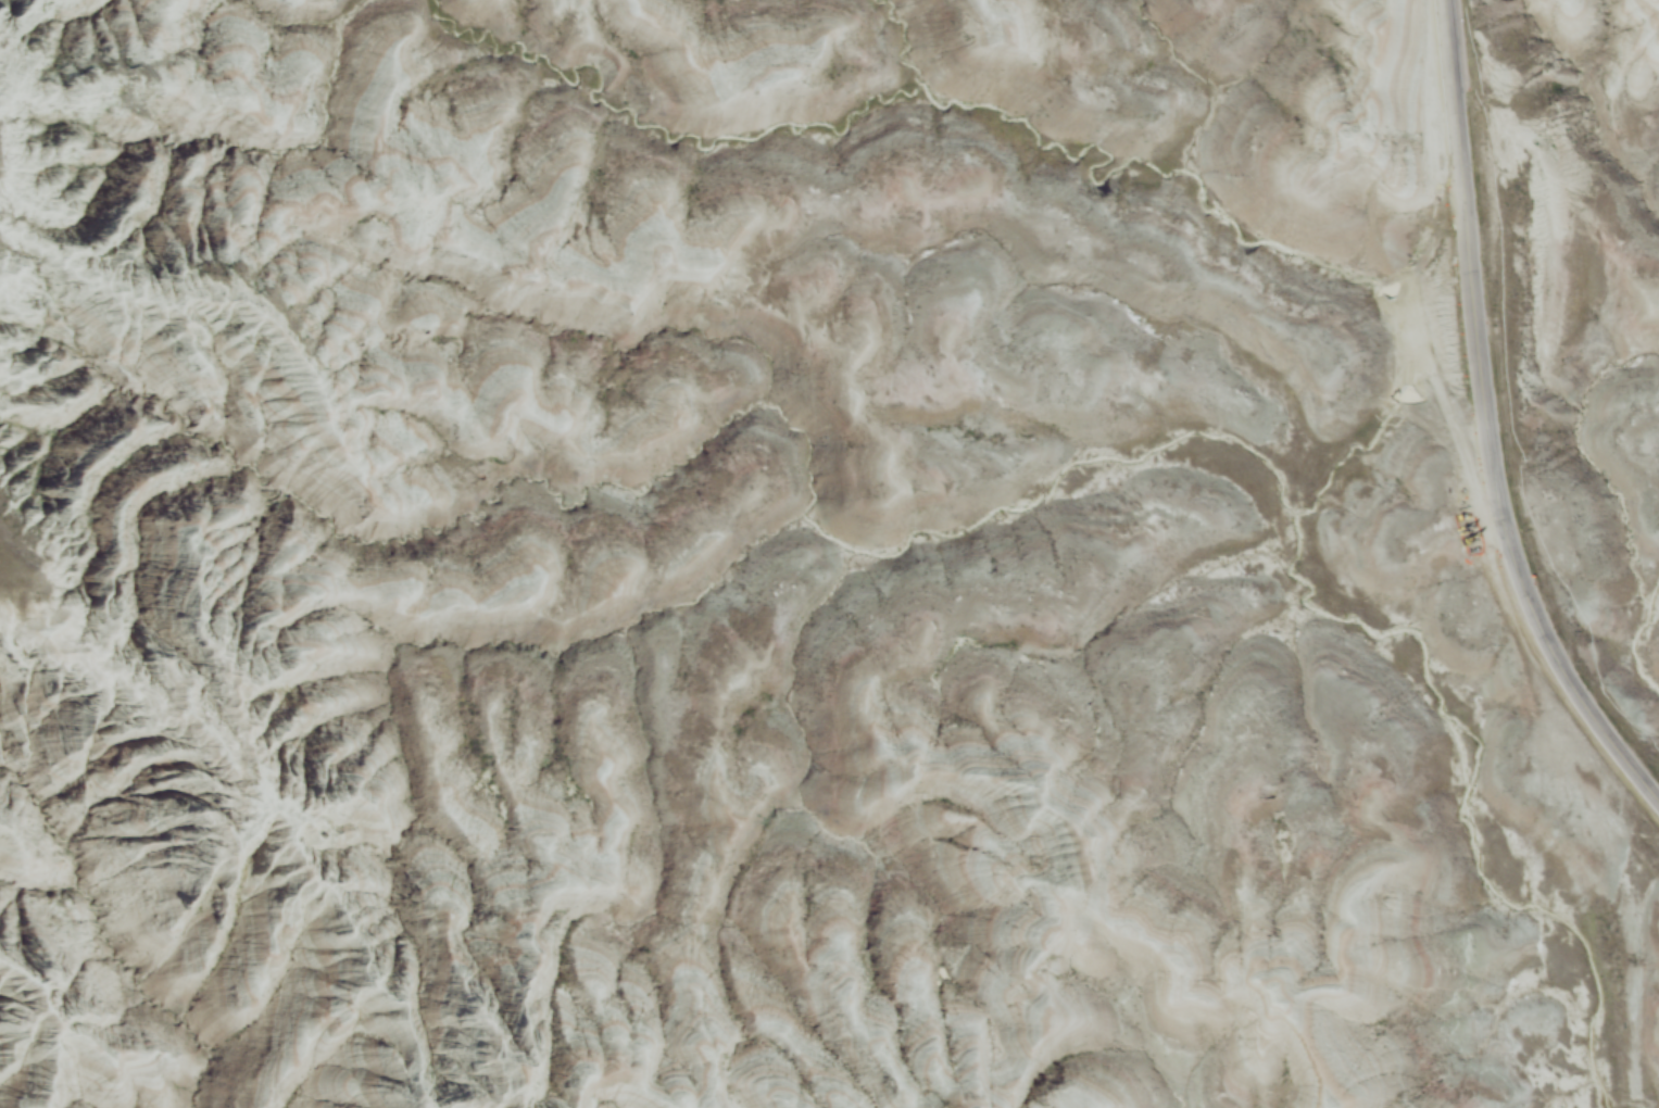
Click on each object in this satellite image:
road: (1491, 423)

